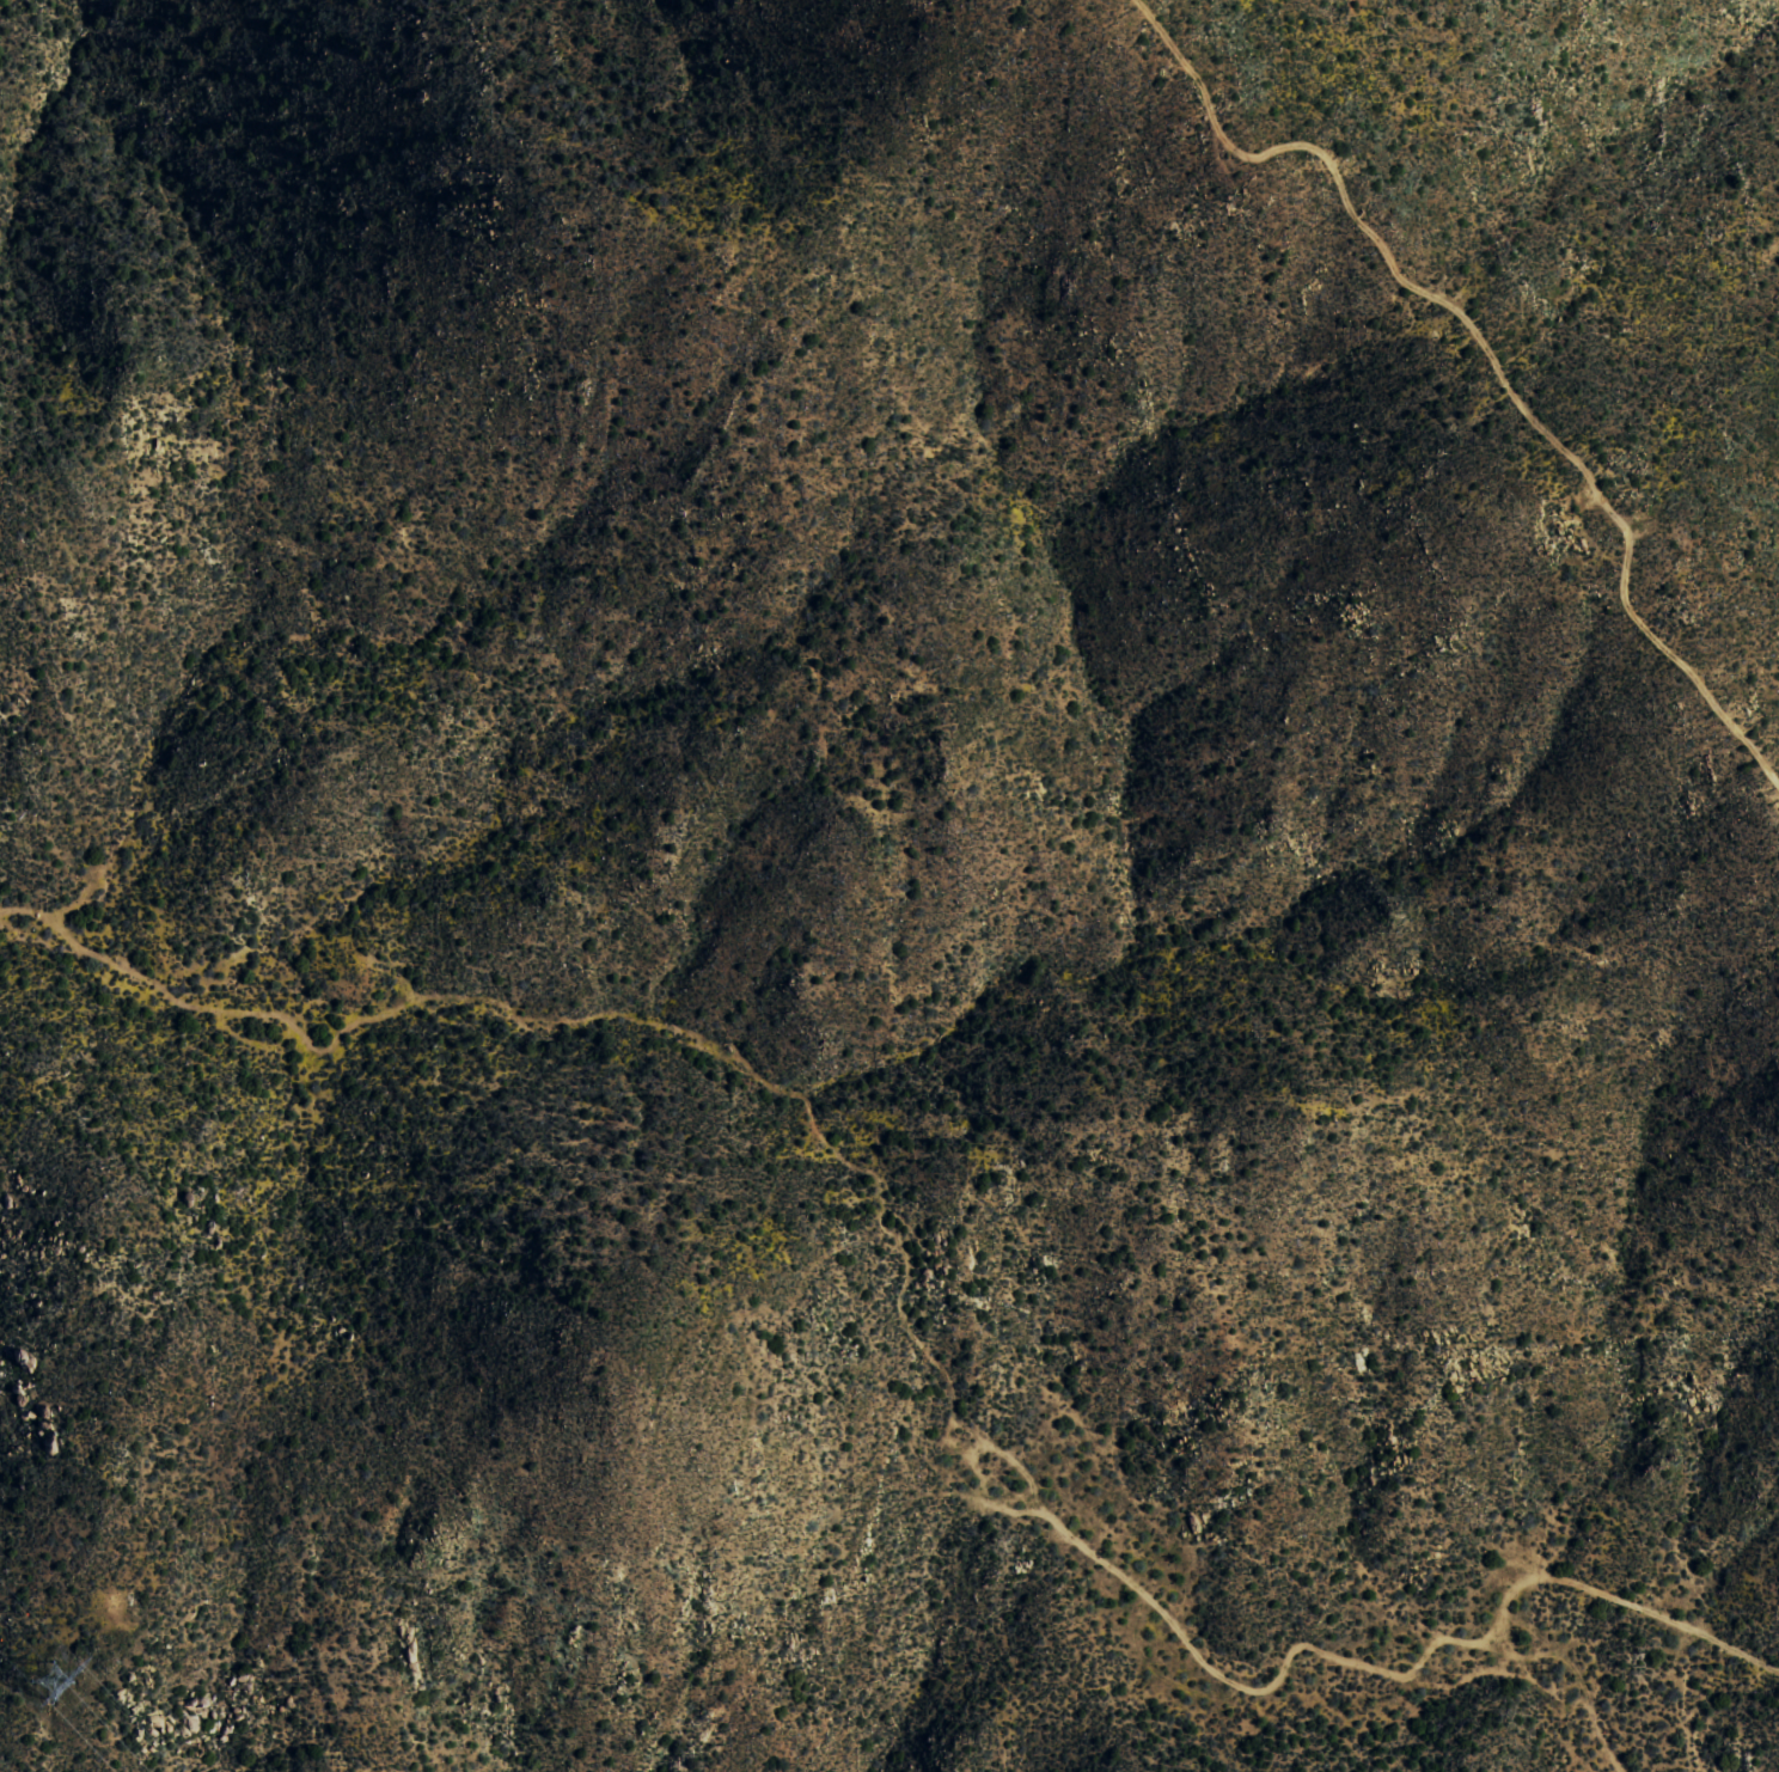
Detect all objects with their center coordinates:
power tower: (72, 1680)

